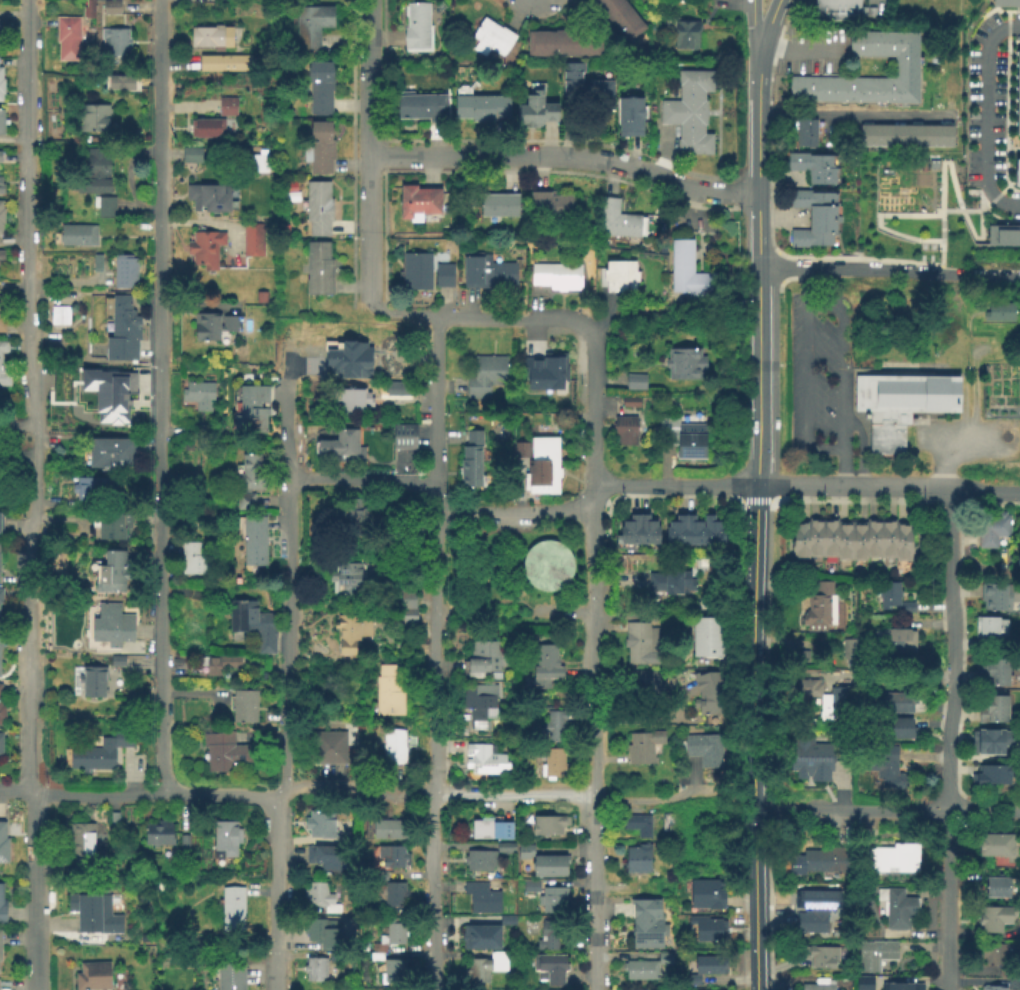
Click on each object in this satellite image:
building: (1005, 4)
road: (772, 5)
building: (111, 6)
building: (88, 9)
building: (839, 11)
building: (621, 18)
building: (416, 26)
road: (751, 26)
building: (311, 27)
road: (762, 30)
building: (685, 36)
building: (67, 38)
building: (210, 38)
building: (490, 39)
building: (114, 42)
building: (564, 44)
road: (799, 44)
building: (225, 64)
building: (906, 68)
building: (695, 82)
building: (120, 83)
building: (1, 85)
building: (320, 88)
building: (587, 91)
building: (1017, 93)
building: (685, 104)
building: (227, 107)
building: (419, 108)
building: (482, 109)
building: (535, 113)
road: (987, 116)
building: (630, 117)
road: (853, 117)
building: (93, 119)
building: (2, 122)
building: (685, 122)
building: (206, 129)
building: (805, 134)
building: (875, 136)
building: (905, 137)
building: (934, 137)
building: (694, 145)
building: (319, 149)
road: (366, 154)
building: (0, 156)
building: (191, 156)
road: (563, 156)
road: (756, 160)
building: (256, 163)
building: (813, 169)
building: (1017, 171)
building: (96, 173)
building: (1, 189)
road: (944, 193)
building: (209, 199)
building: (418, 205)
building: (814, 205)
building: (549, 206)
building: (500, 207)
building: (104, 208)
building: (318, 209)
building: (2, 215)
building: (617, 221)
building: (1003, 233)
building: (814, 235)
building: (79, 236)
building: (252, 241)
building: (205, 250)
building: (1, 256)
road: (943, 260)
building: (96, 265)
road: (849, 269)
building: (317, 271)
building: (124, 272)
building: (416, 272)
building: (486, 272)
road: (981, 272)
building: (690, 274)
building: (443, 277)
building: (556, 278)
building: (620, 278)
road: (65, 285)
road: (804, 285)
road: (768, 297)
building: (259, 298)
road: (402, 312)
building: (999, 313)
building: (2, 314)
road: (508, 315)
building: (60, 316)
building: (213, 327)
building: (120, 330)
road: (841, 358)
building: (347, 361)
building: (0, 362)
building: (684, 365)
building: (542, 372)
building: (486, 376)
road: (39, 377)
road: (757, 377)
road: (606, 381)
building: (636, 384)
building: (400, 389)
road: (804, 393)
building: (110, 394)
road: (162, 396)
building: (198, 396)
building: (348, 401)
building: (630, 403)
building: (901, 405)
road: (432, 406)
road: (593, 408)
building: (252, 410)
building: (204, 429)
building: (624, 430)
building: (404, 437)
building: (684, 437)
road: (965, 437)
building: (342, 449)
building: (110, 455)
road: (937, 462)
building: (471, 463)
building: (539, 465)
road: (843, 467)
building: (0, 472)
building: (252, 473)
road: (360, 480)
road: (771, 487)
building: (90, 491)
road: (985, 492)
road: (27, 495)
building: (245, 503)
road: (512, 513)
building: (347, 517)
building: (0, 525)
building: (112, 526)
building: (993, 528)
road: (501, 531)
building: (629, 532)
building: (648, 532)
building: (676, 532)
building: (694, 532)
building: (713, 532)
building: (816, 539)
building: (830, 539)
building: (888, 539)
building: (873, 540)
building: (800, 541)
building: (253, 542)
building: (845, 542)
building: (859, 542)
building: (903, 542)
road: (456, 558)
building: (193, 561)
road: (501, 566)
park: (511, 566)
building: (546, 566)
water tower: (547, 567)
building: (112, 570)
building: (345, 579)
road: (615, 579)
building: (671, 583)
road: (186, 593)
building: (0, 597)
building: (992, 597)
building: (407, 600)
building: (894, 600)
road: (493, 602)
building: (823, 609)
road: (562, 613)
road: (642, 613)
road: (439, 615)
building: (408, 617)
building: (252, 624)
building: (111, 626)
building: (986, 628)
building: (351, 629)
building: (707, 639)
building: (639, 642)
building: (1, 643)
building: (898, 643)
road: (431, 646)
road: (593, 647)
road: (953, 649)
building: (852, 651)
building: (799, 658)
building: (483, 660)
building: (116, 661)
building: (178, 663)
building: (219, 665)
building: (545, 668)
building: (135, 671)
building: (993, 674)
road: (895, 681)
building: (91, 683)
road: (285, 683)
building: (643, 683)
building: (388, 693)
building: (805, 694)
road: (191, 695)
building: (711, 698)
building: (478, 700)
building: (848, 704)
building: (897, 704)
building: (244, 707)
building: (993, 710)
building: (1, 713)
road: (653, 719)
building: (556, 727)
building: (898, 730)
road: (752, 738)
building: (990, 742)
building: (0, 744)
building: (395, 746)
building: (328, 748)
building: (642, 749)
building: (1018, 749)
building: (701, 750)
building: (223, 752)
building: (98, 754)
building: (483, 761)
building: (812, 761)
building: (552, 765)
building: (882, 768)
building: (990, 776)
road: (690, 784)
road: (302, 787)
road: (140, 794)
road: (459, 794)
road: (634, 800)
road: (850, 809)
road: (984, 811)
building: (114, 820)
building: (667, 823)
building: (320, 824)
building: (637, 825)
building: (547, 826)
building: (390, 830)
building: (490, 830)
building: (159, 834)
building: (225, 840)
building: (80, 841)
building: (183, 842)
building: (3, 846)
building: (995, 846)
building: (505, 850)
building: (392, 857)
building: (324, 858)
building: (637, 859)
building: (891, 859)
building: (826, 860)
building: (479, 861)
building: (543, 863)
building: (378, 877)
building: (513, 881)
building: (530, 886)
building: (998, 889)
road: (431, 892)
road: (594, 894)
building: (316, 895)
building: (482, 895)
building: (707, 895)
building: (394, 896)
road: (949, 900)
building: (553, 901)
building: (2, 907)
building: (896, 908)
building: (232, 912)
building: (94, 914)
building: (814, 916)
building: (507, 917)
building: (993, 920)
building: (647, 925)
building: (708, 930)
building: (1018, 932)
building: (319, 933)
building: (480, 935)
building: (390, 936)
building: (547, 940)
building: (0, 946)
building: (352, 956)
building: (873, 956)
building: (994, 956)
building: (339, 957)
building: (375, 957)
building: (822, 957)
building: (663, 959)
building: (711, 966)
building: (486, 968)
building: (551, 969)
building: (315, 970)
building: (640, 971)
building: (394, 974)
building: (92, 976)
building: (230, 976)
building: (691, 981)
building: (864, 984)
building: (818, 986)
building: (902, 987)
building: (994, 988)
building: (547, 989)
building: (637, 989)

